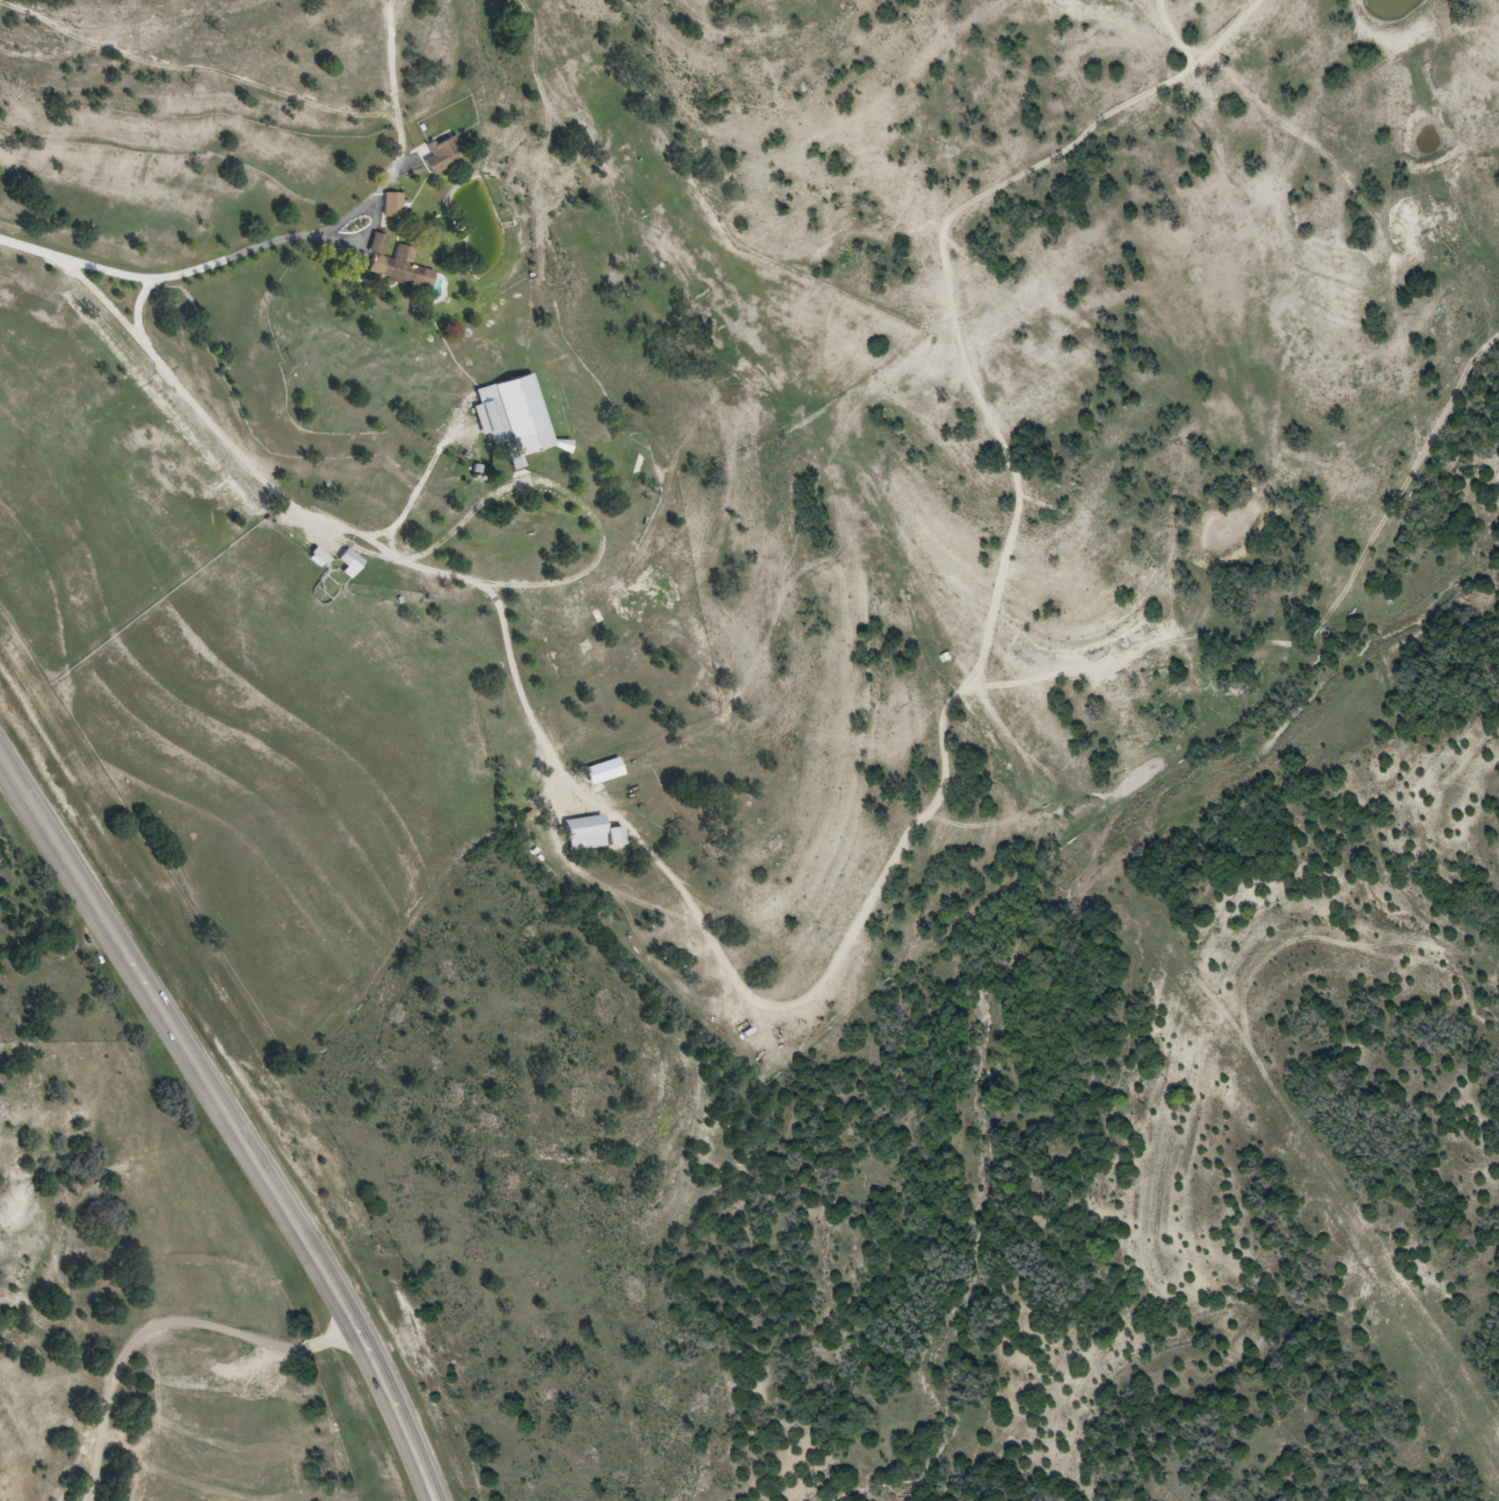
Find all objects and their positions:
road: (1179, 36)
building: (447, 155)
building: (395, 205)
road: (79, 266)
building: (399, 266)
building: (496, 421)
building: (322, 559)
building: (354, 564)
building: (598, 830)
road: (716, 938)
road: (241, 1115)

